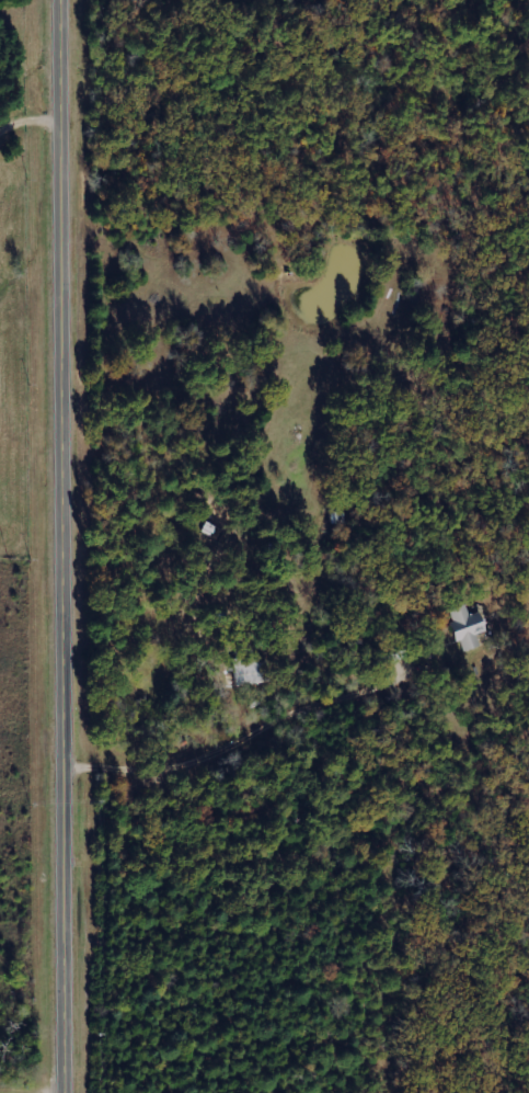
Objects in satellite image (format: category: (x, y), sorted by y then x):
road: (28, 137)
road: (58, 546)
building: (465, 627)
road: (249, 737)

